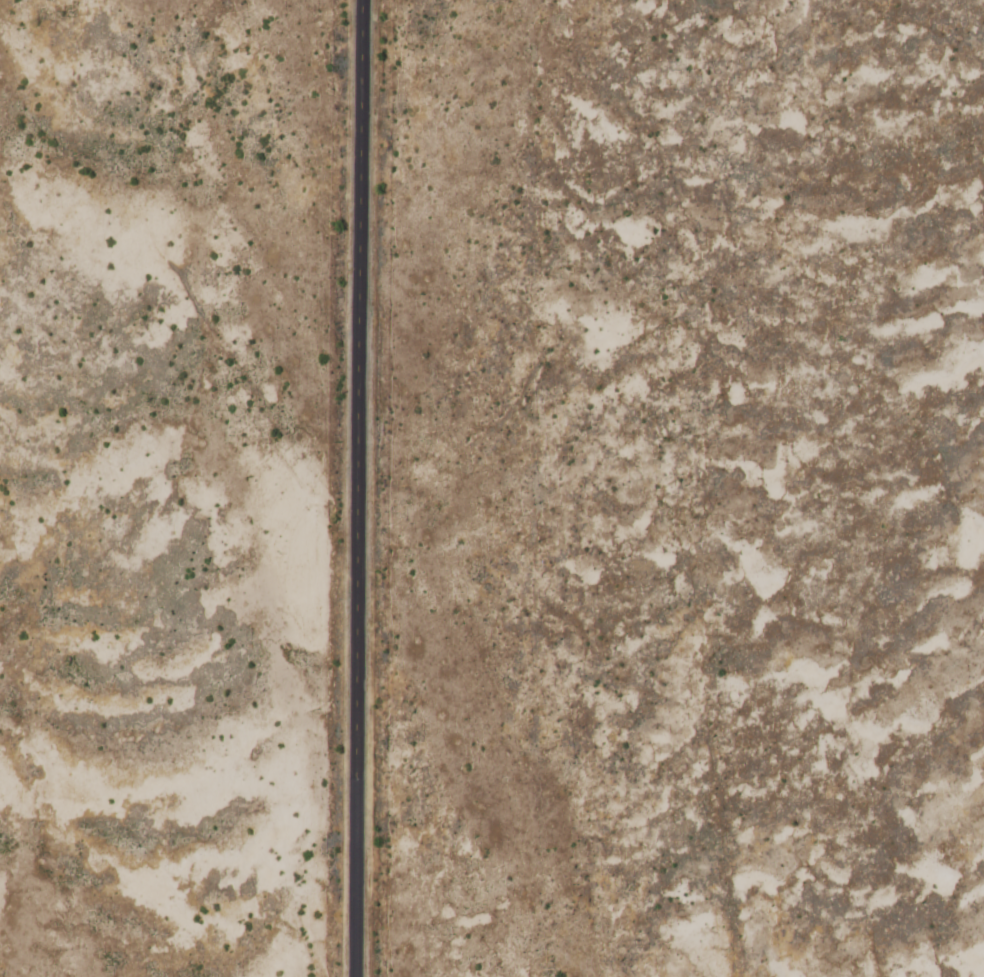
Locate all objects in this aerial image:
road: (355, 488)

